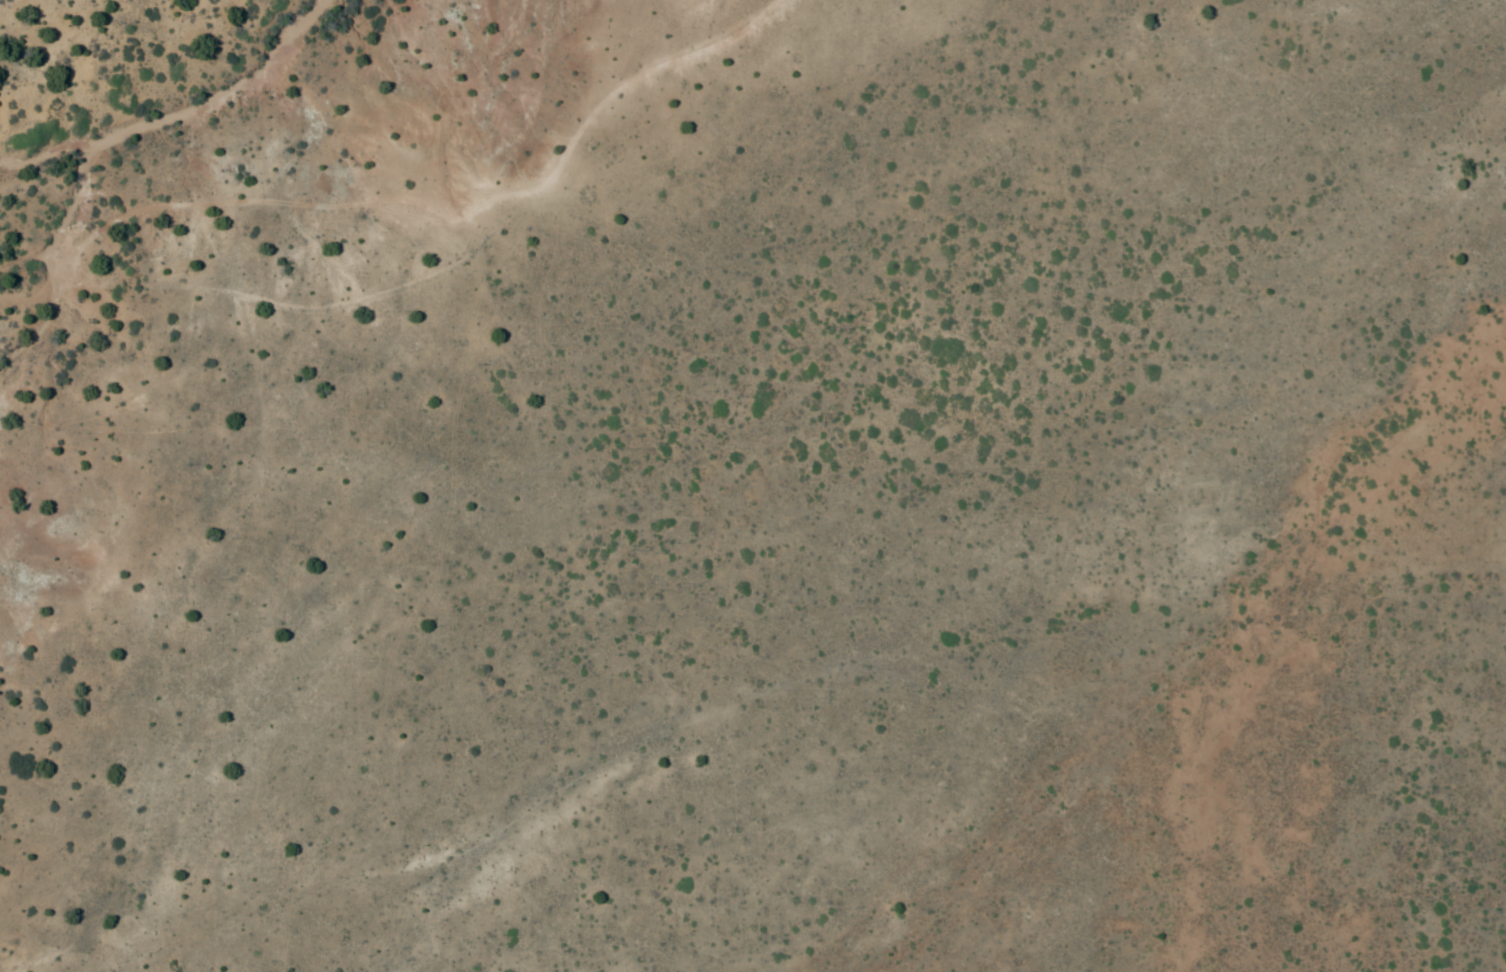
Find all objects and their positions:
road: (344, 167)

